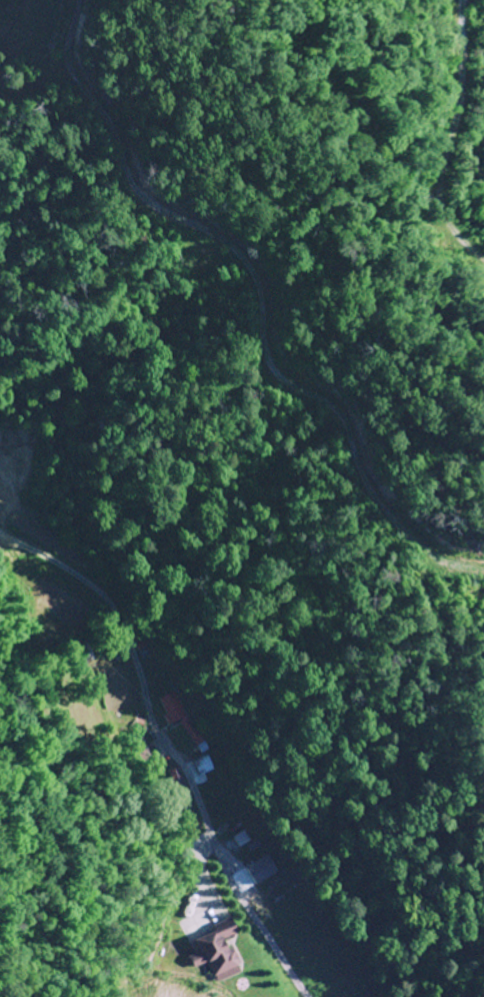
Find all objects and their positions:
road: (175, 707)
building: (174, 709)
building: (205, 765)
road: (305, 962)
road: (326, 987)

